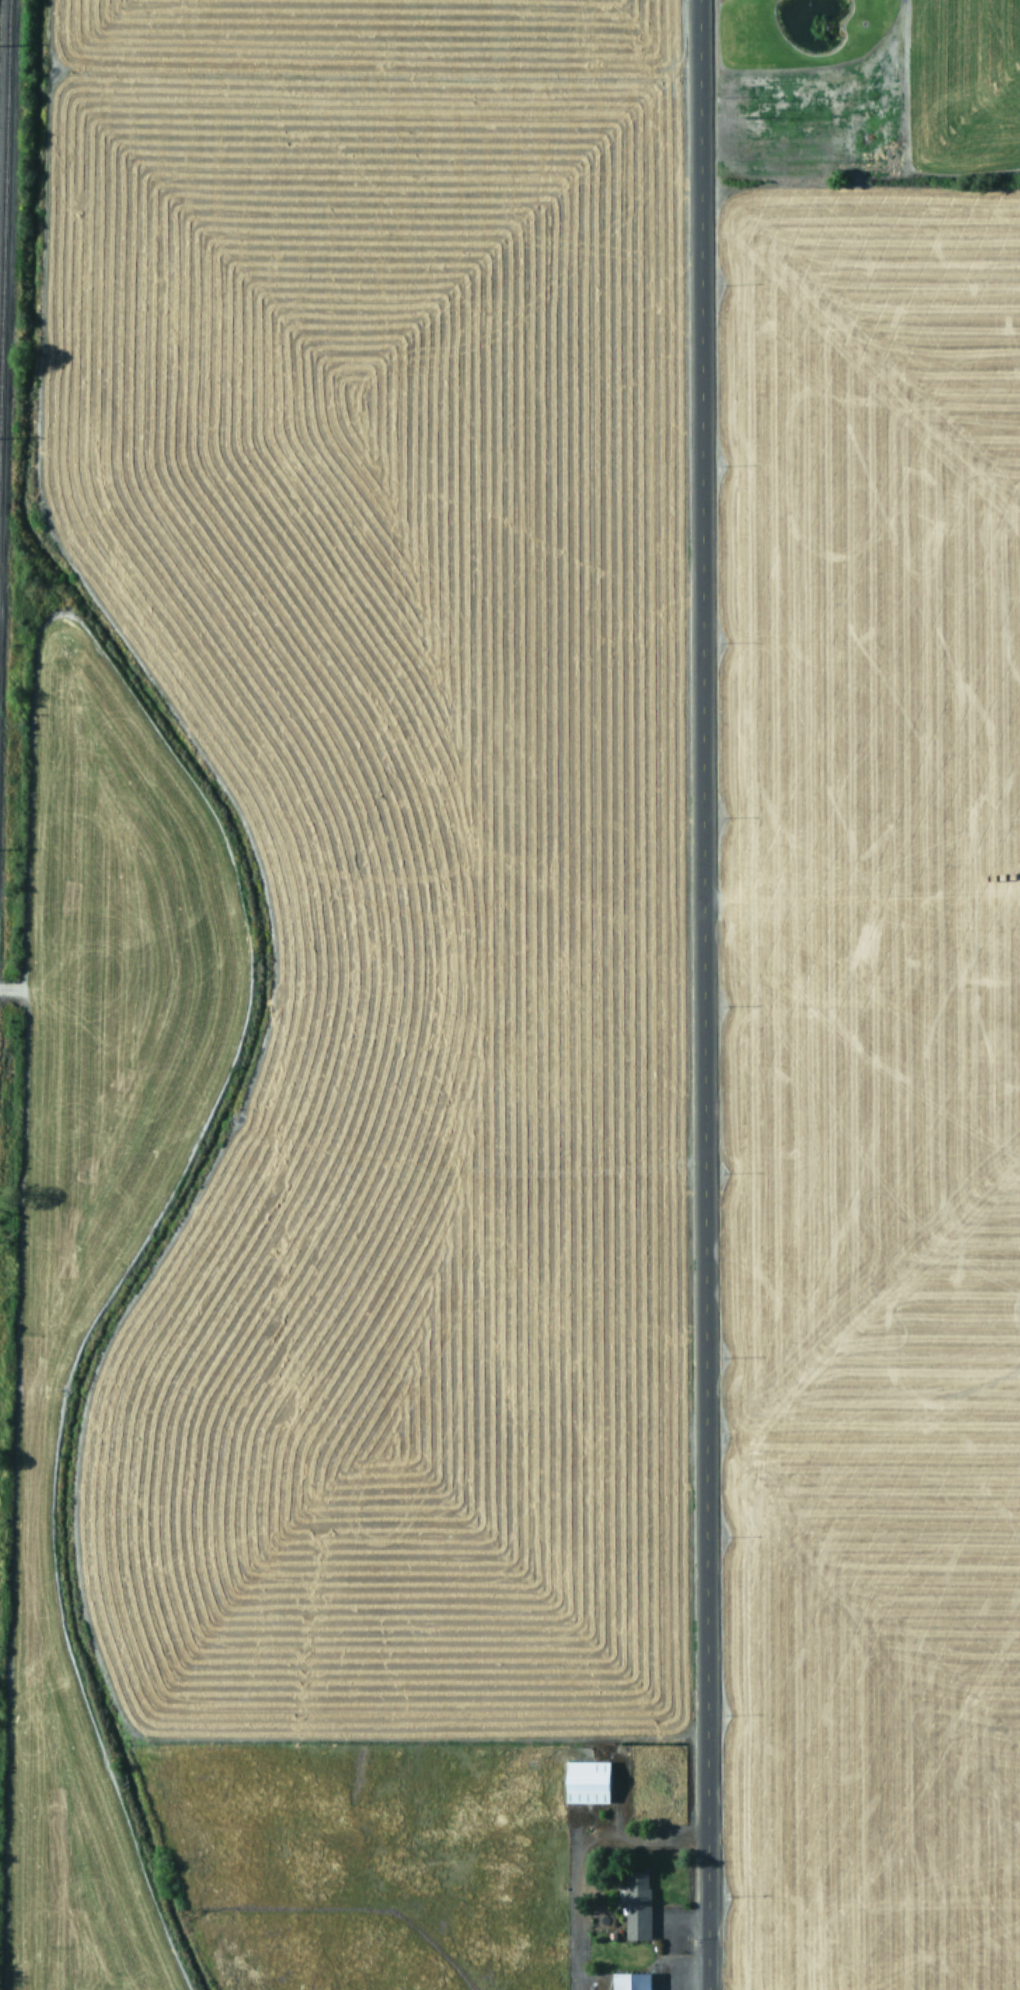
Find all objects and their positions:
railway: (1, 107)
road: (697, 994)
crop: (517, 1001)
building: (634, 1981)

